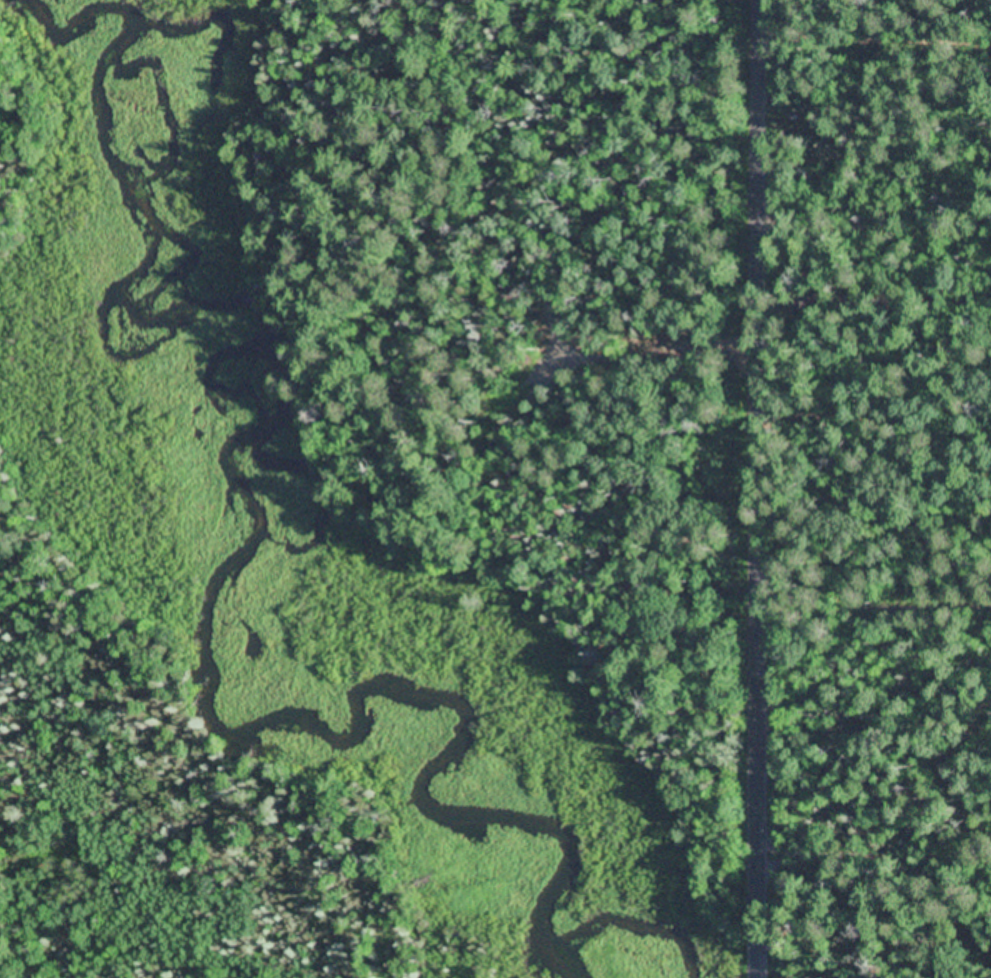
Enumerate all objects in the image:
road: (878, 73)
road: (762, 488)
road: (877, 533)
river: (214, 542)
road: (877, 755)
road: (877, 847)

